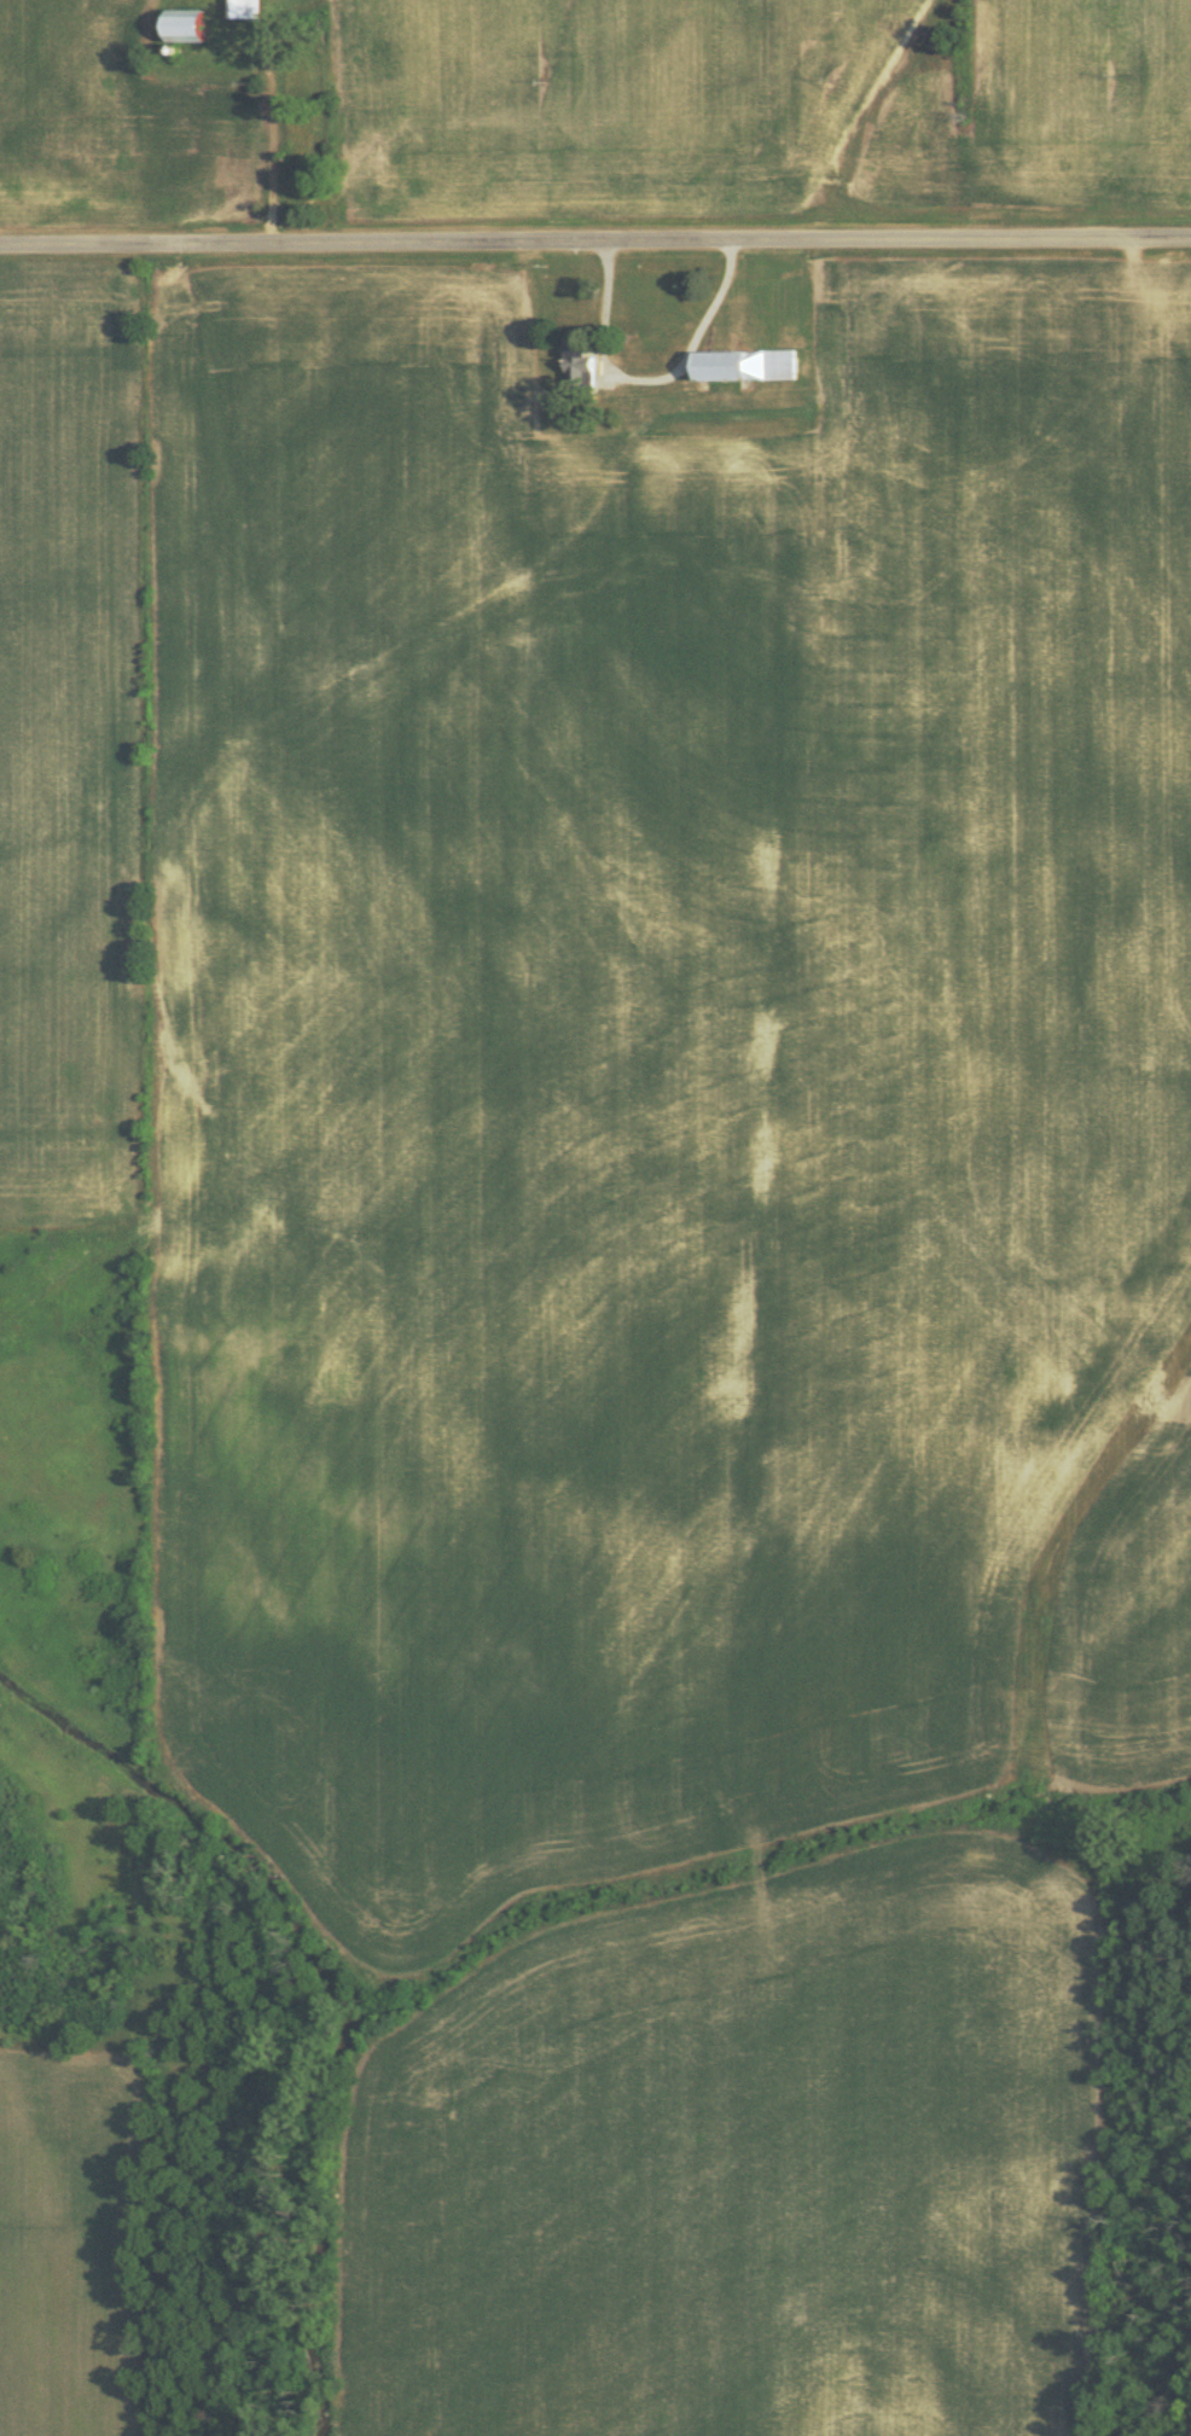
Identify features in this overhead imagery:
building: (180, 23)
road: (595, 242)
building: (739, 364)

